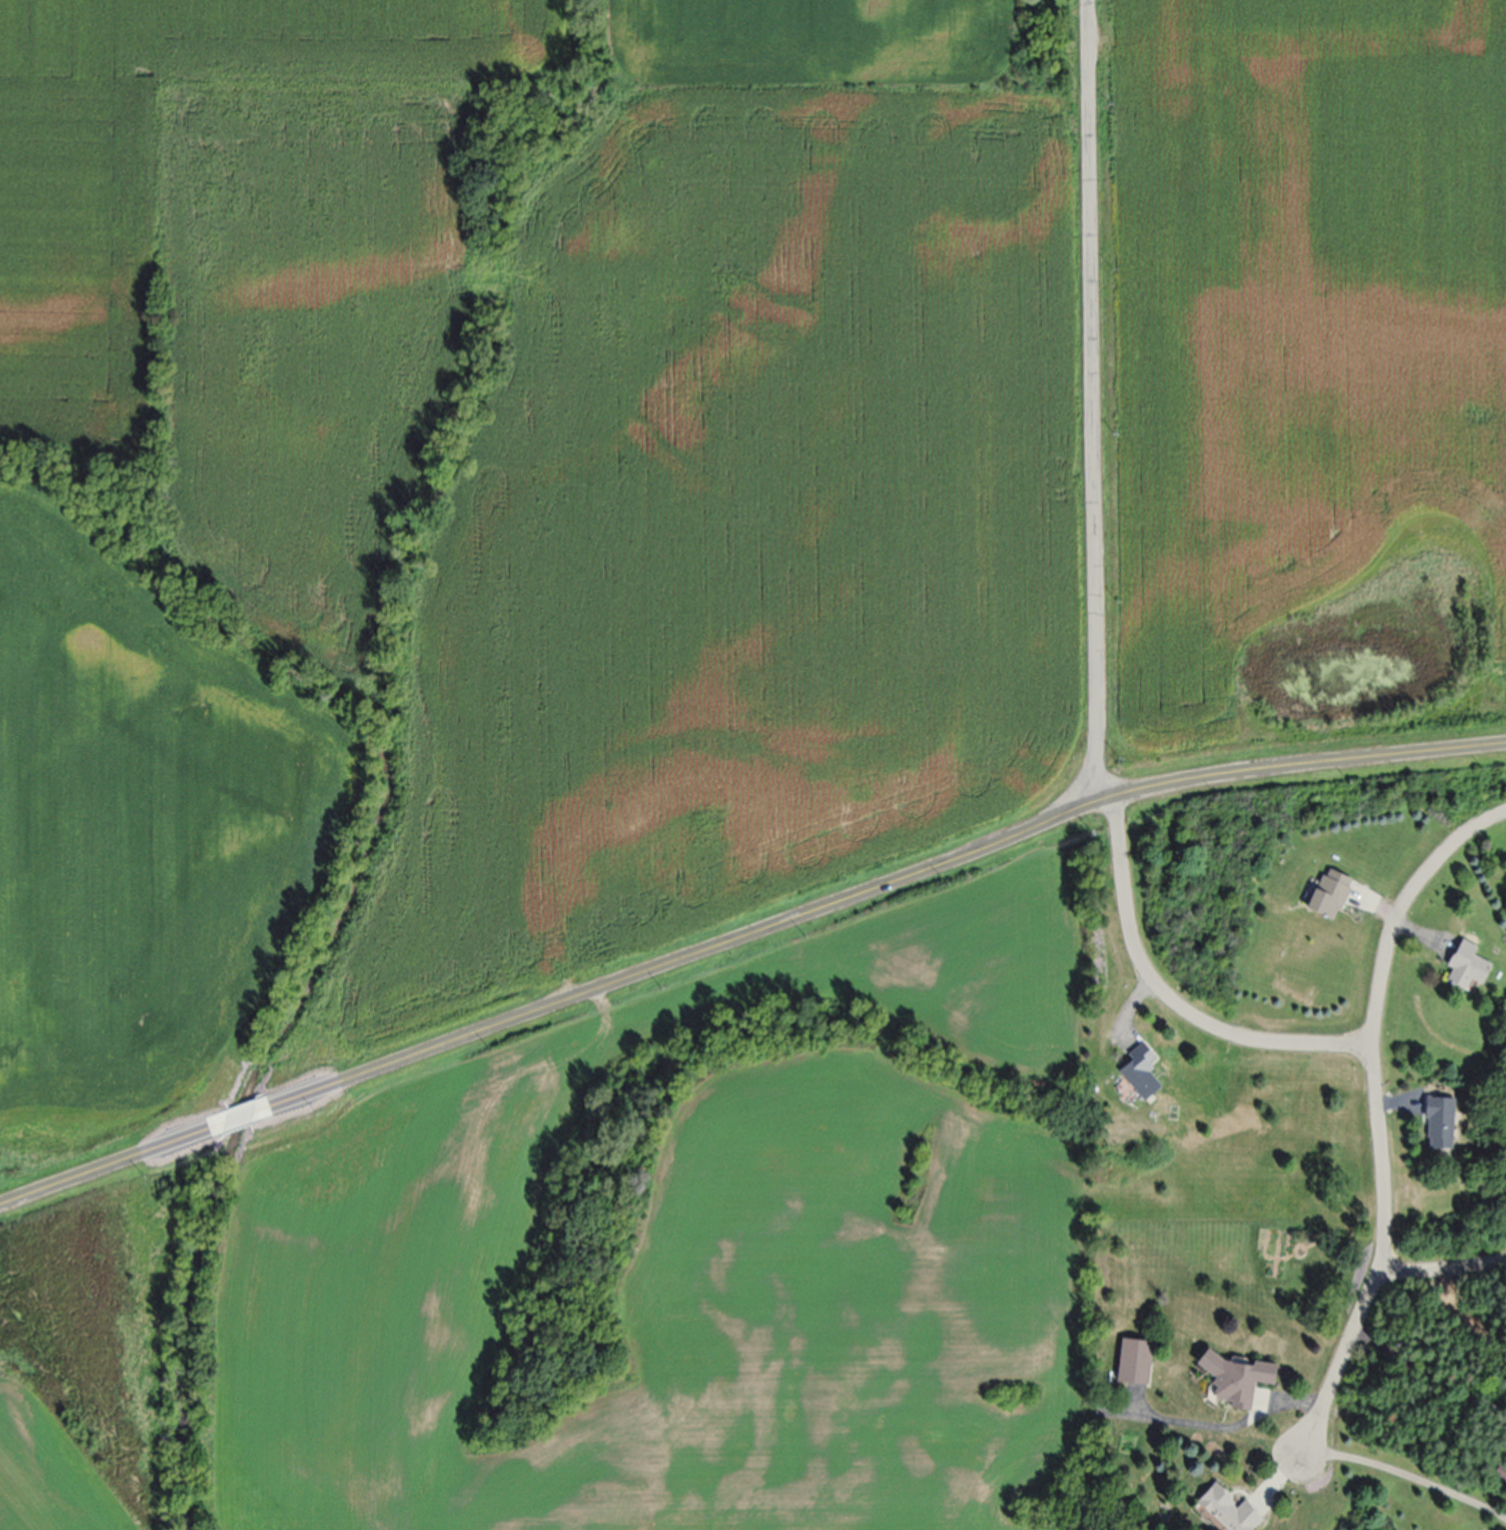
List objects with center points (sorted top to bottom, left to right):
park: (1043, 42)
road: (1093, 417)
road: (1115, 811)
building: (1328, 896)
road: (744, 935)
building: (1465, 969)
road: (1183, 1007)
building: (1139, 1075)
road: (1380, 1117)
building: (1438, 1125)
road: (1442, 1269)
building: (1133, 1365)
road: (1431, 1369)
building: (1234, 1383)
road: (1221, 1423)
road: (1410, 1473)
building: (1499, 1476)
building: (1224, 1512)

